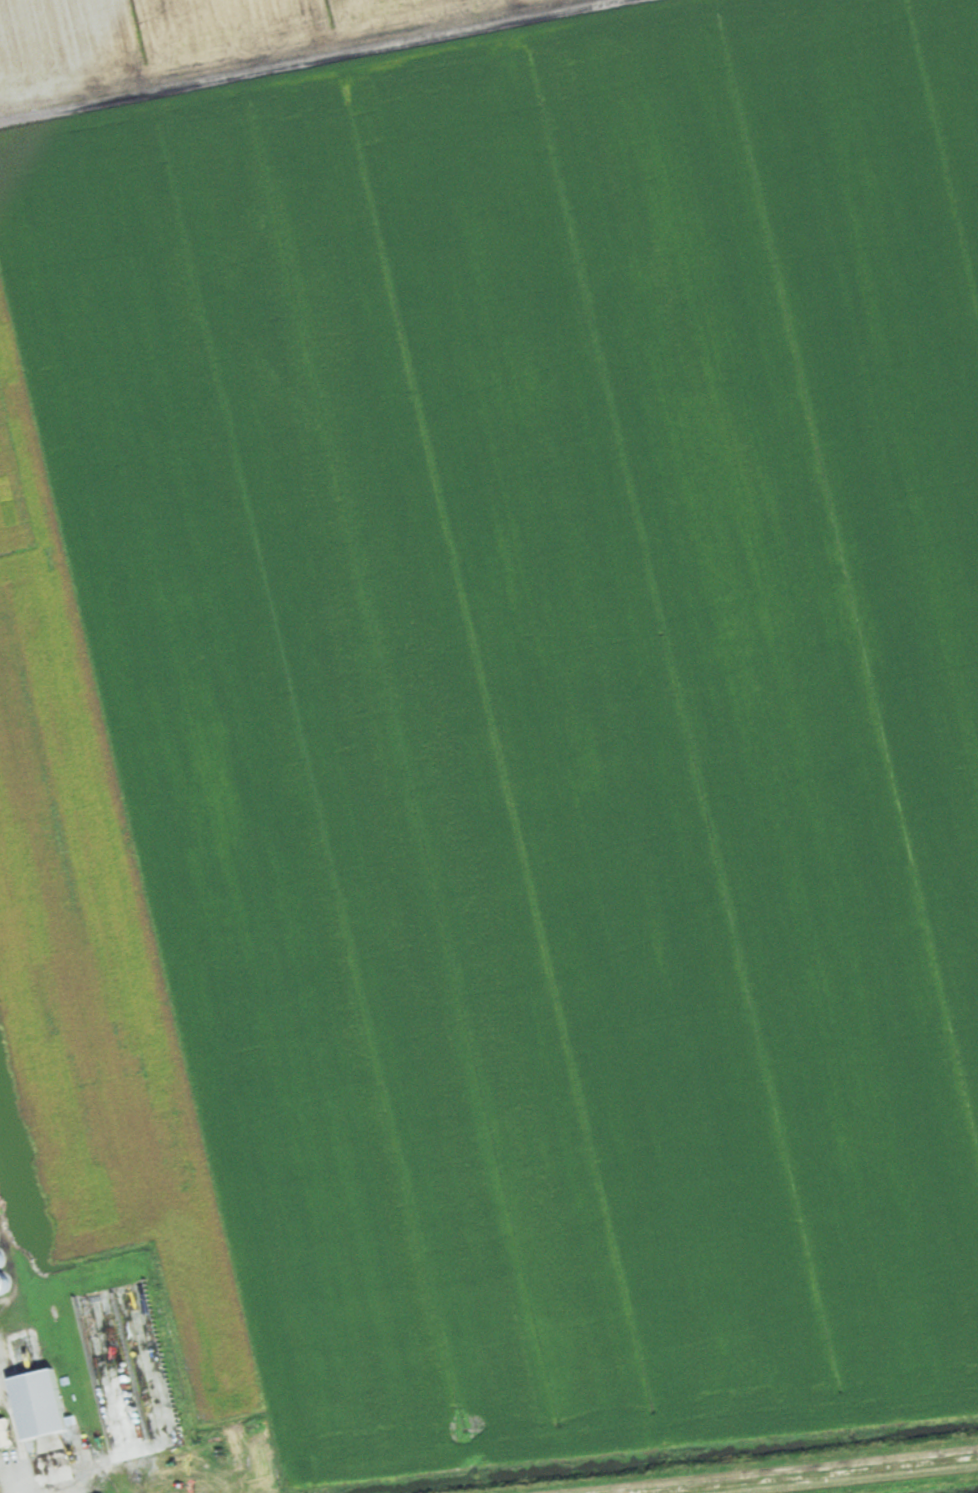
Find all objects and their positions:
crop: (166, 33)
building: (39, 1406)
building: (4, 1435)
road: (7, 1478)
road: (4, 1485)

